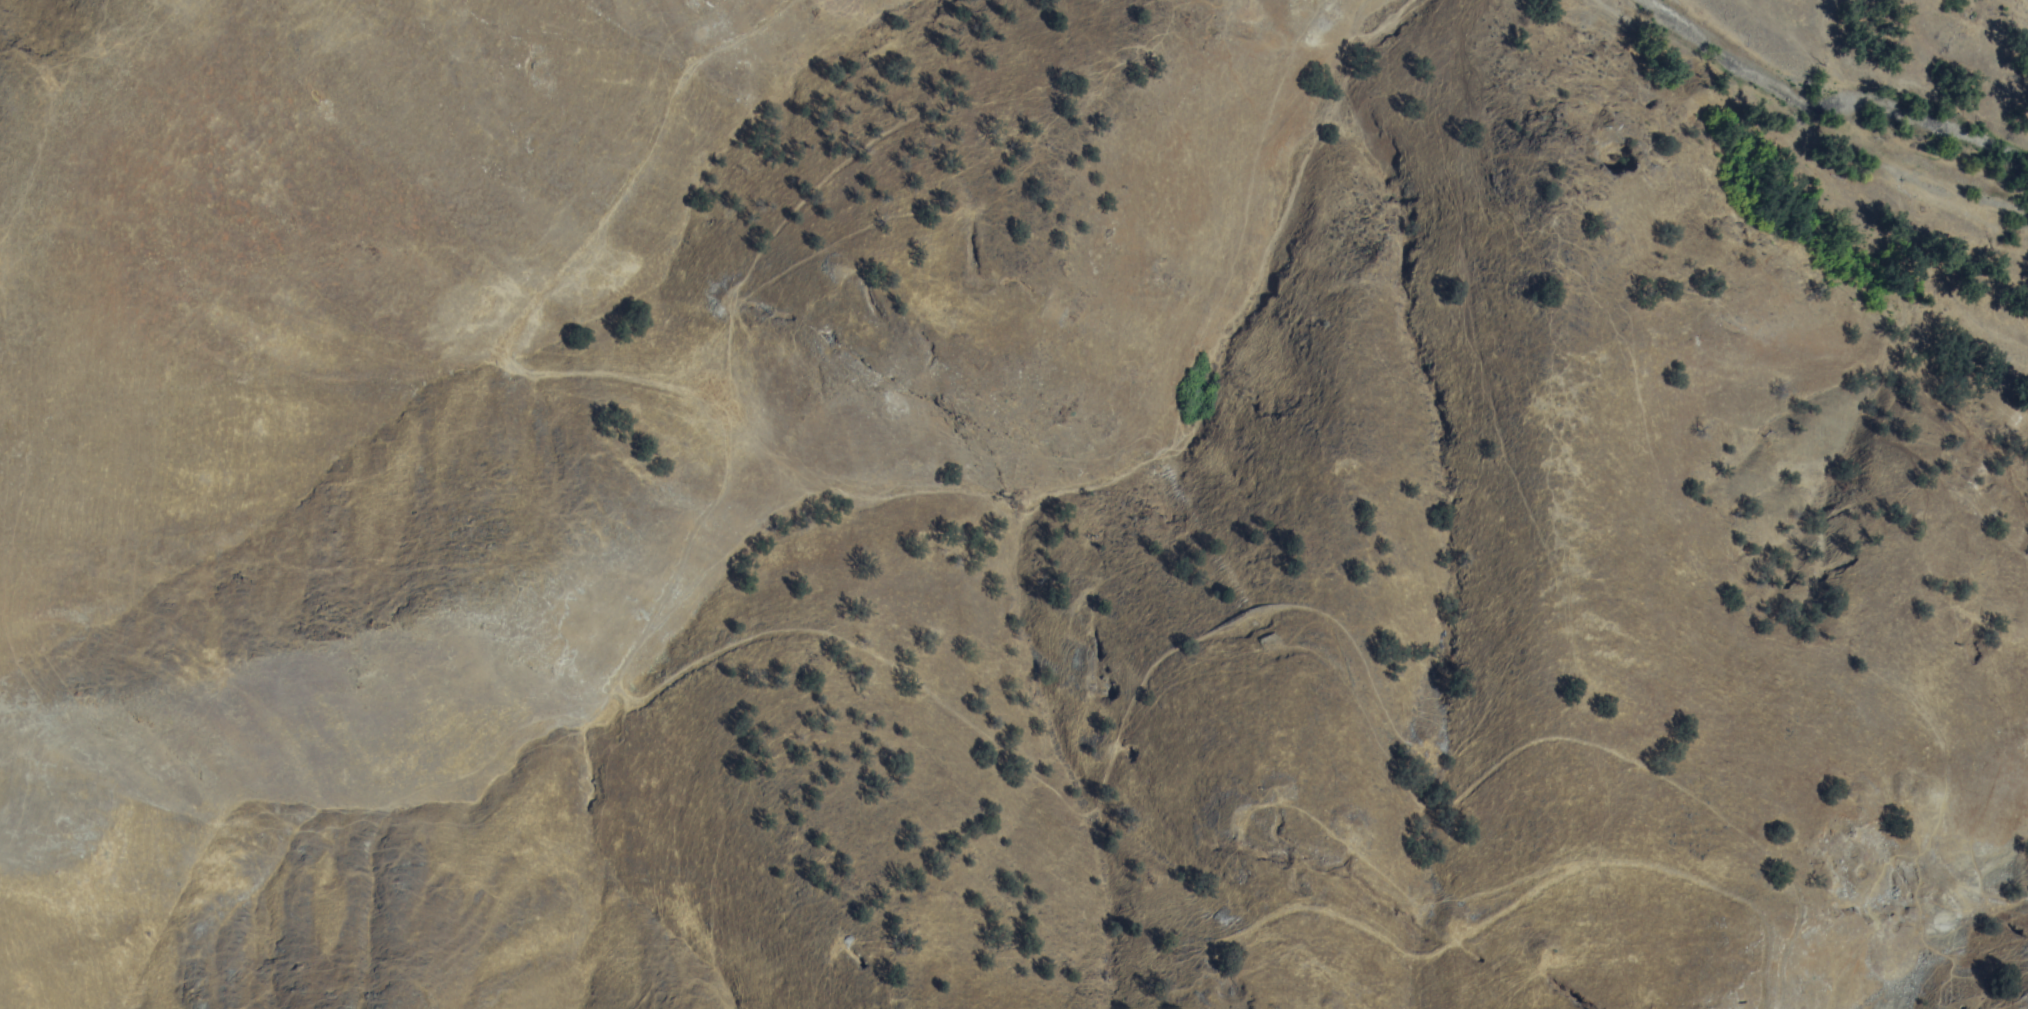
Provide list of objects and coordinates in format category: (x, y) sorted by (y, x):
river: (1824, 97)

